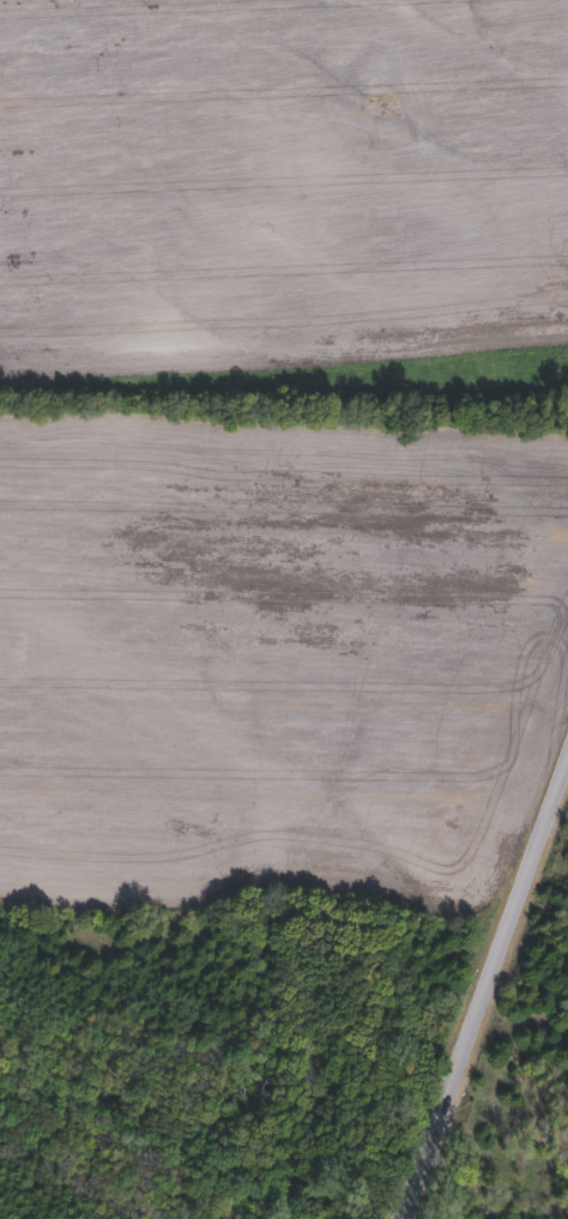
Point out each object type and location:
road: (488, 995)

